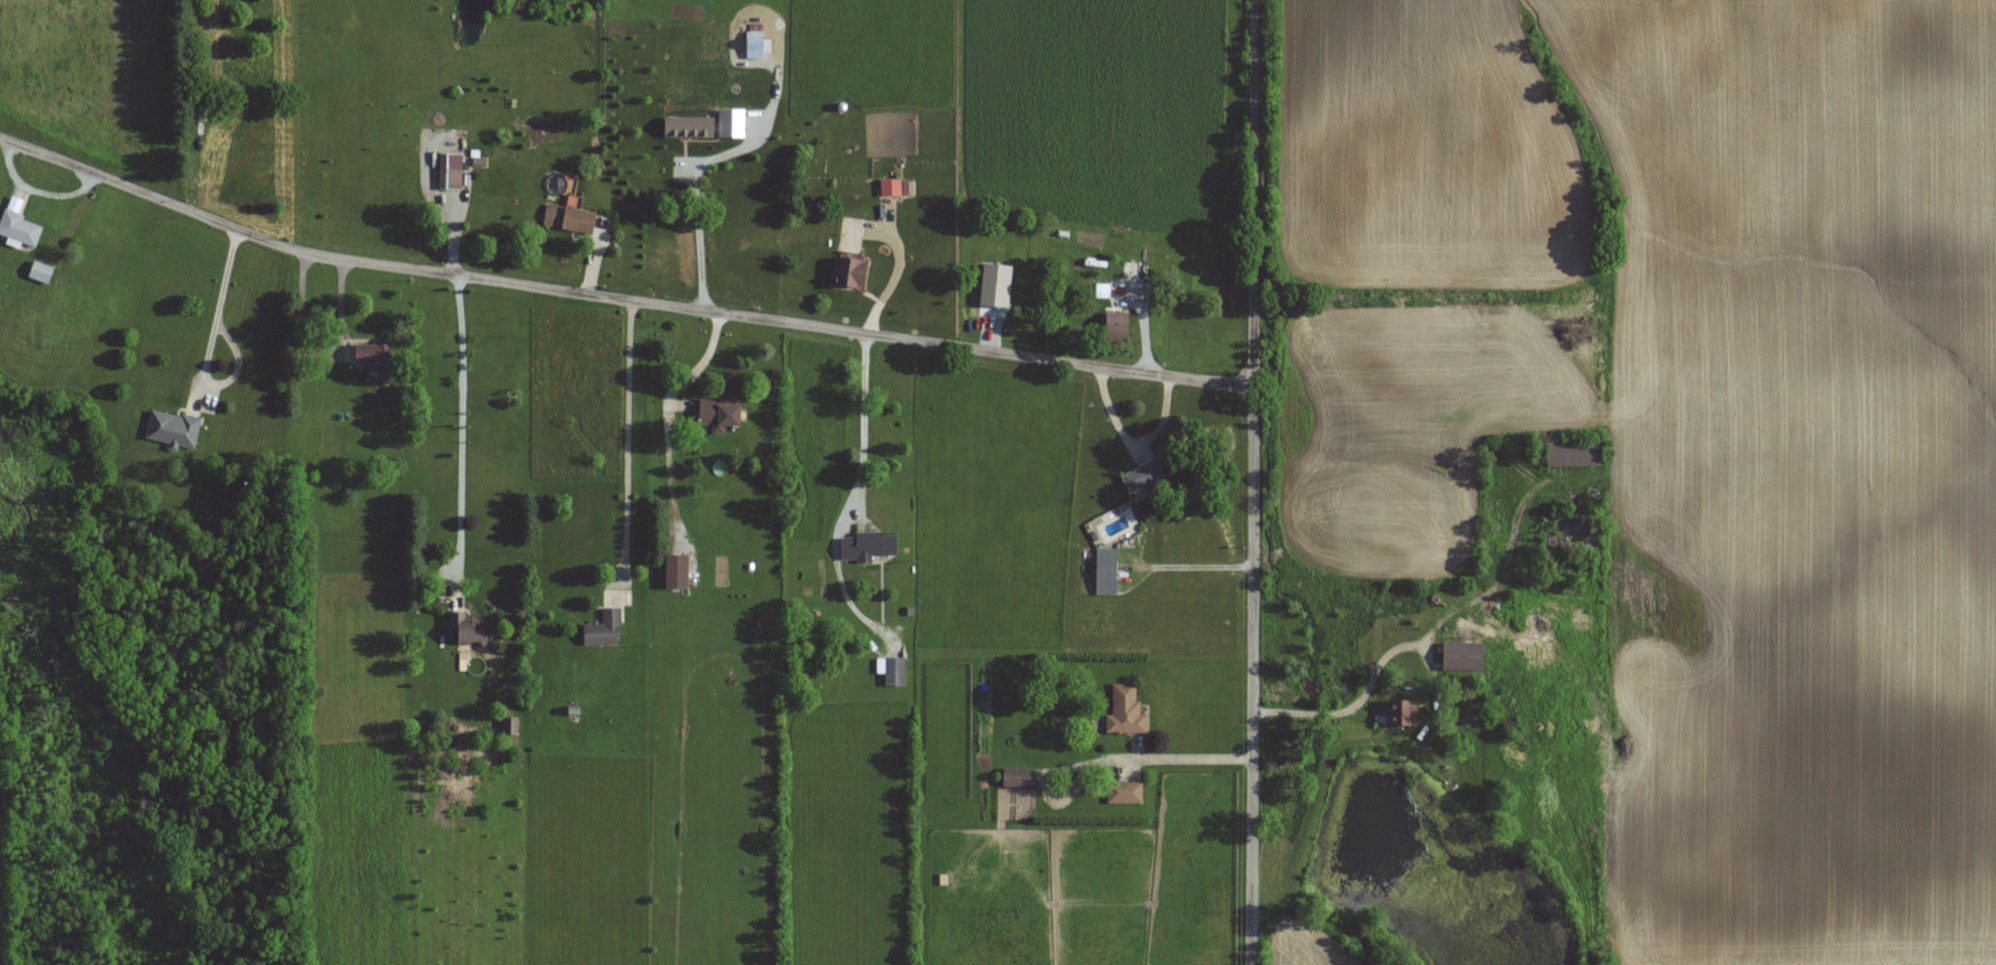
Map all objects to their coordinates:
building: (753, 42)
building: (665, 77)
building: (200, 109)
building: (236, 116)
road: (706, 161)
building: (449, 179)
building: (890, 188)
building: (568, 219)
building: (17, 225)
building: (39, 272)
building: (848, 272)
road: (890, 282)
building: (1101, 291)
road: (617, 297)
building: (1115, 324)
road: (208, 348)
building: (372, 356)
road: (691, 371)
building: (717, 415)
road: (861, 417)
building: (171, 430)
road: (460, 431)
road: (626, 437)
building: (1572, 454)
building: (1140, 477)
road: (1255, 482)
building: (321, 508)
building: (1566, 533)
building: (866, 546)
road: (1194, 564)
building: (674, 572)
building: (1105, 572)
building: (465, 630)
building: (603, 630)
building: (1461, 657)
building: (894, 672)
road: (1348, 708)
building: (1124, 711)
building: (1400, 715)
building: (509, 726)
building: (1508, 726)
road: (1101, 758)
building: (1015, 780)

